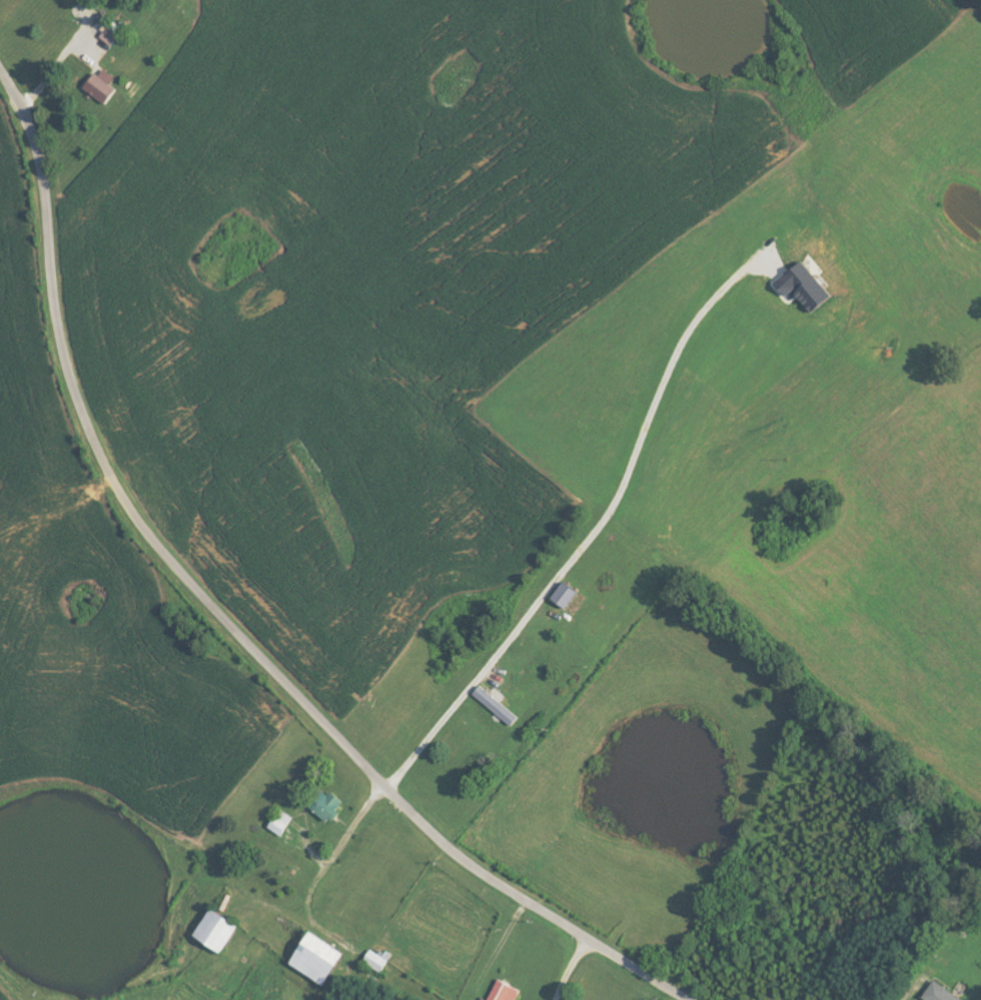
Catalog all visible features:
building: (108, 40)
building: (104, 86)
building: (808, 287)
road: (593, 536)
building: (568, 596)
road: (223, 615)
building: (498, 706)
building: (331, 806)
building: (284, 823)
road: (327, 870)
building: (220, 931)
building: (322, 960)
road: (568, 968)
road: (905, 990)
building: (506, 992)
building: (942, 993)

